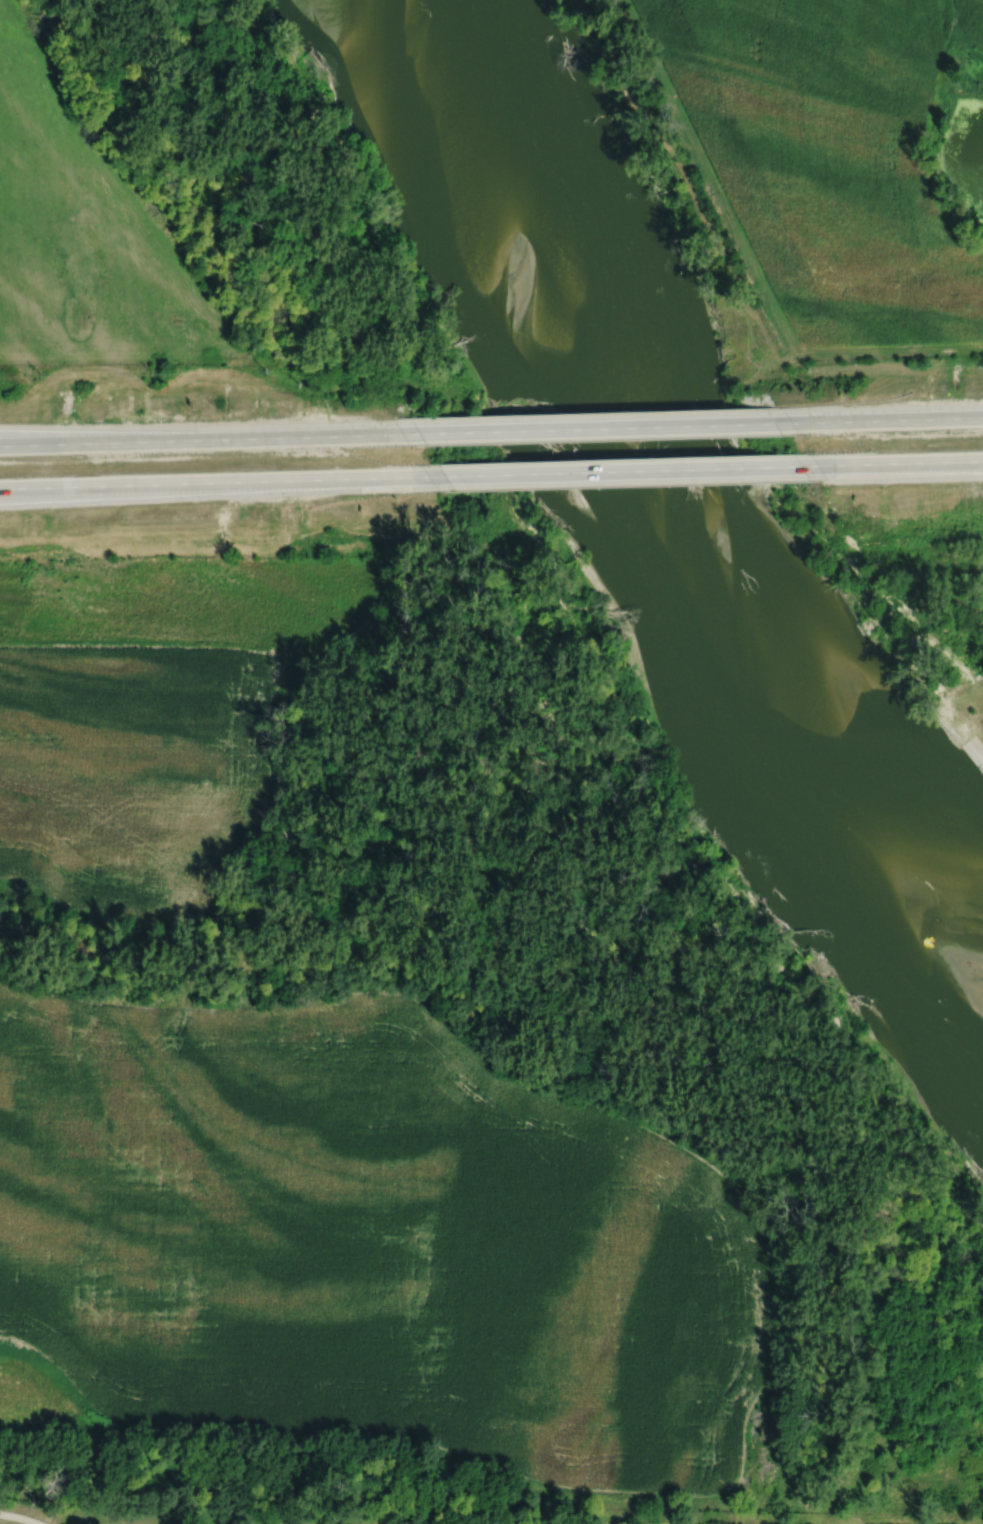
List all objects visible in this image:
road: (886, 419)
road: (588, 429)
road: (57, 440)
road: (194, 440)
road: (907, 462)
road: (907, 466)
road: (609, 473)
road: (194, 483)
road: (22, 489)
river: (685, 501)
park: (928, 607)
crop: (152, 719)
road: (190, 969)
crop: (366, 1244)
road: (20, 1517)

